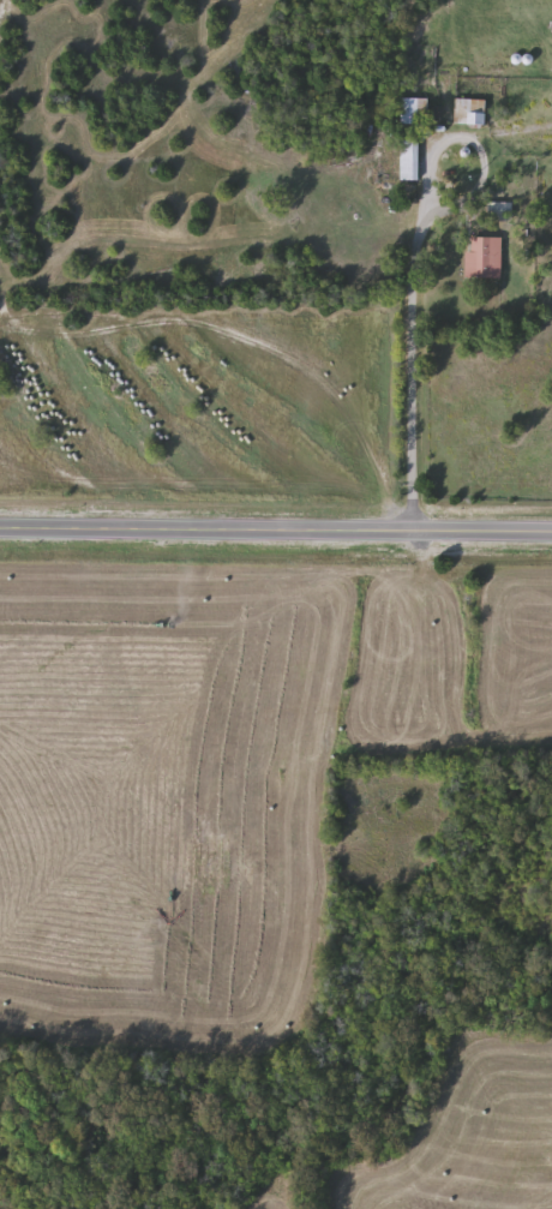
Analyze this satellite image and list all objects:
building: (412, 110)
building: (469, 113)
building: (408, 160)
building: (498, 211)
building: (482, 258)
road: (407, 366)
road: (276, 532)

